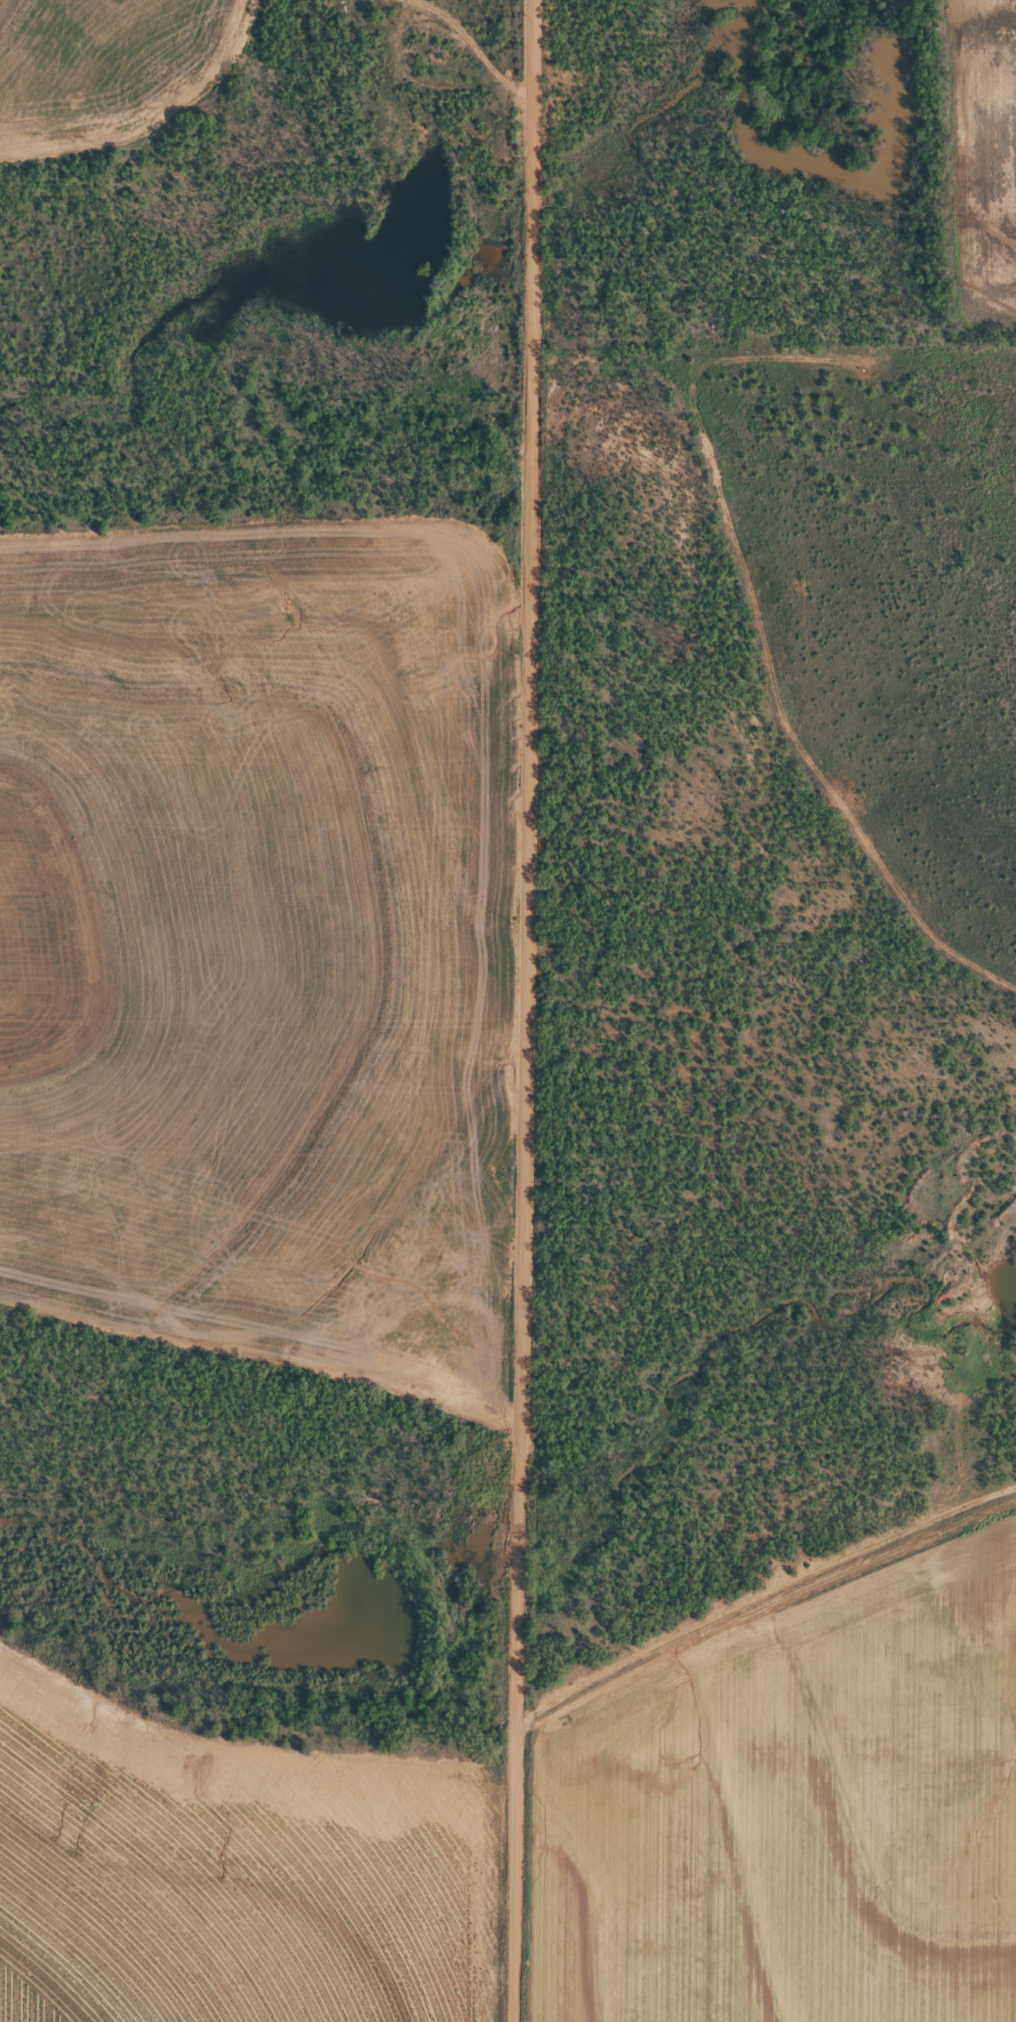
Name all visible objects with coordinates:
road: (501, 1011)
road: (758, 1636)

